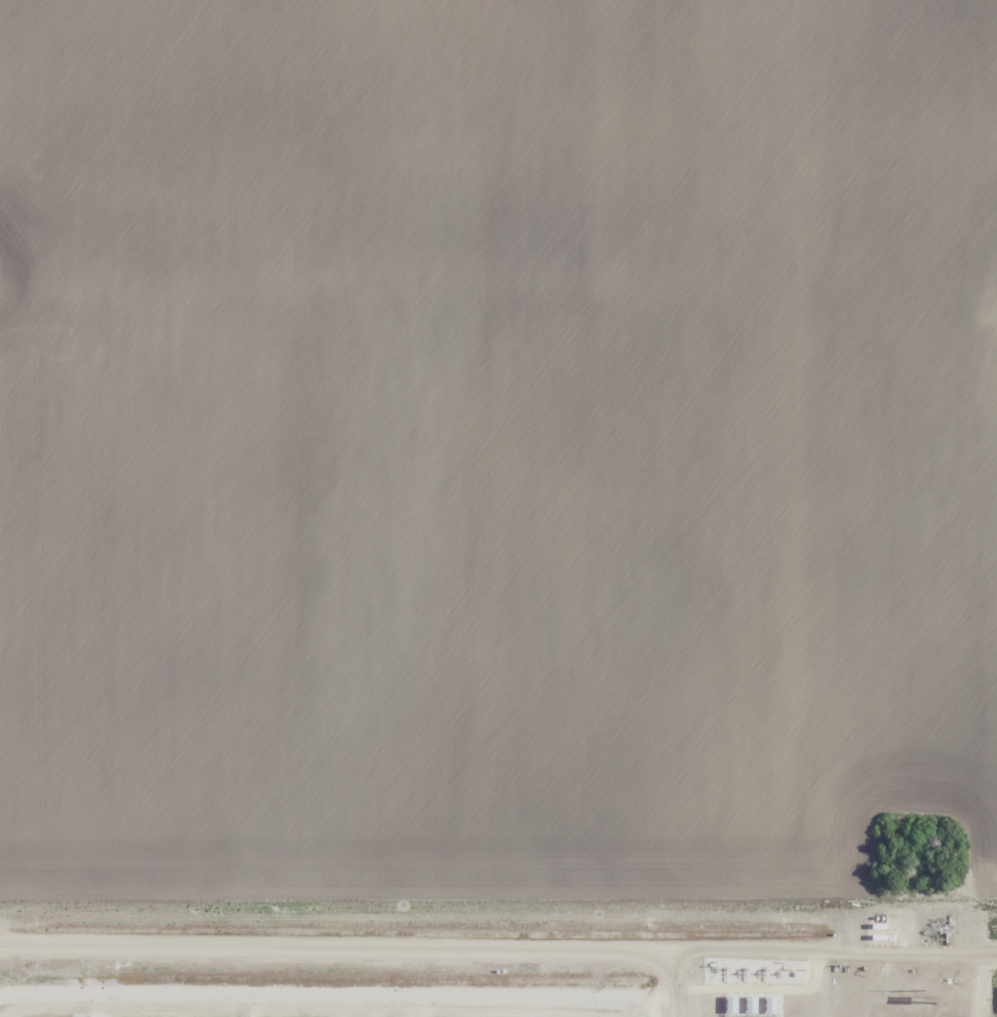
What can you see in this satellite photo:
crop: (498, 508)

